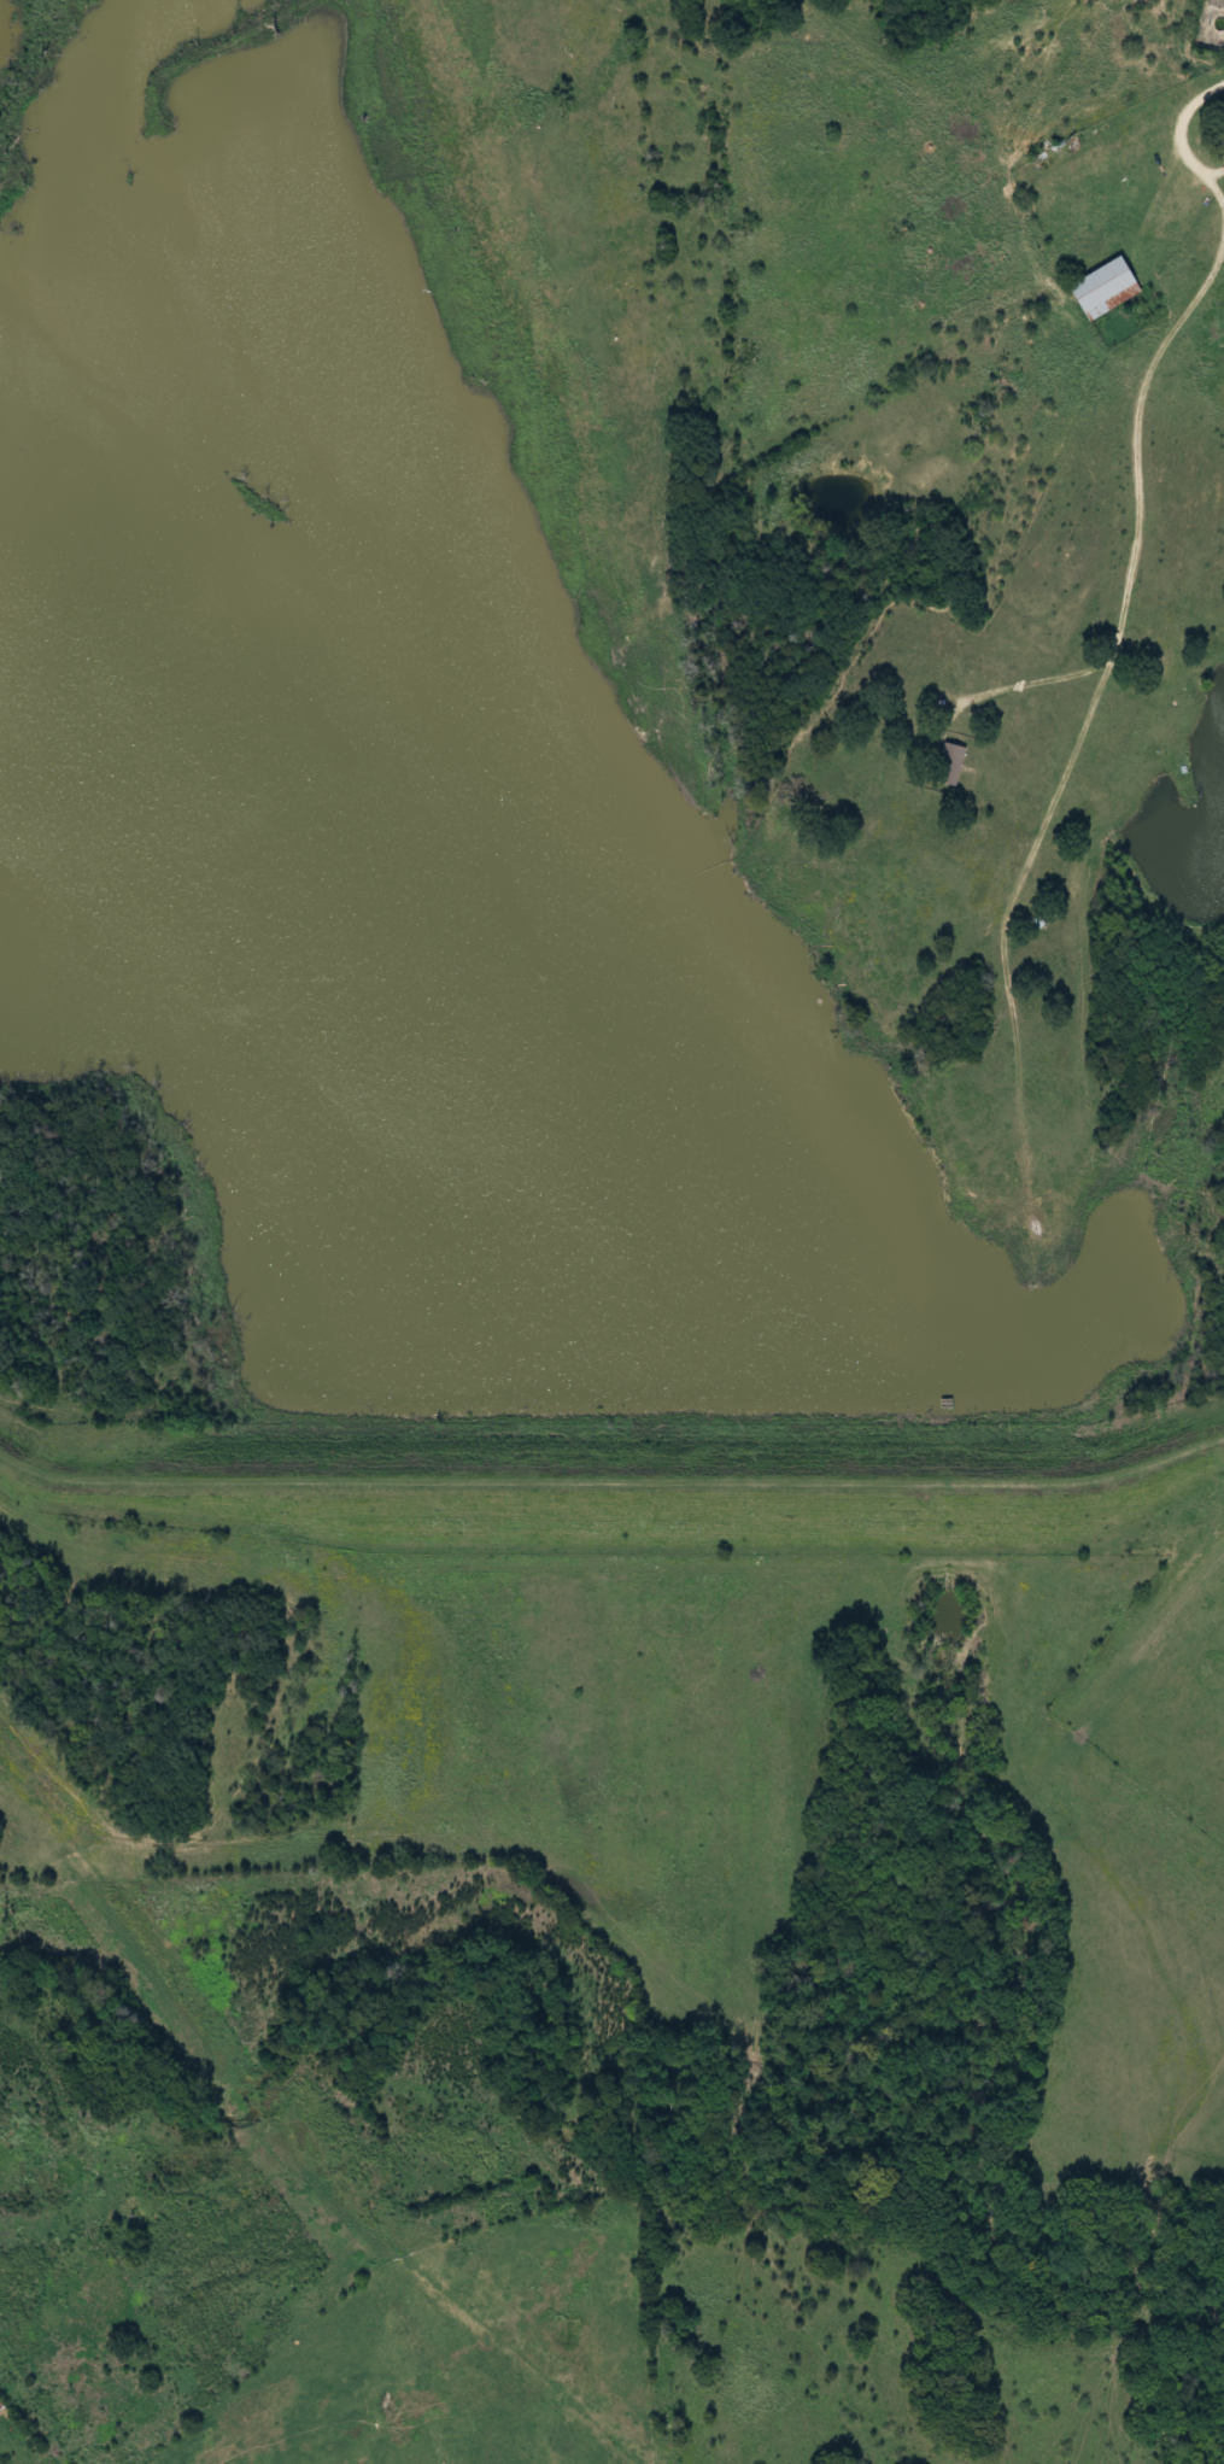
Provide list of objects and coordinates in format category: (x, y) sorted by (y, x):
building: (1220, 111)
building: (1058, 153)
building: (1105, 289)
building: (950, 762)

